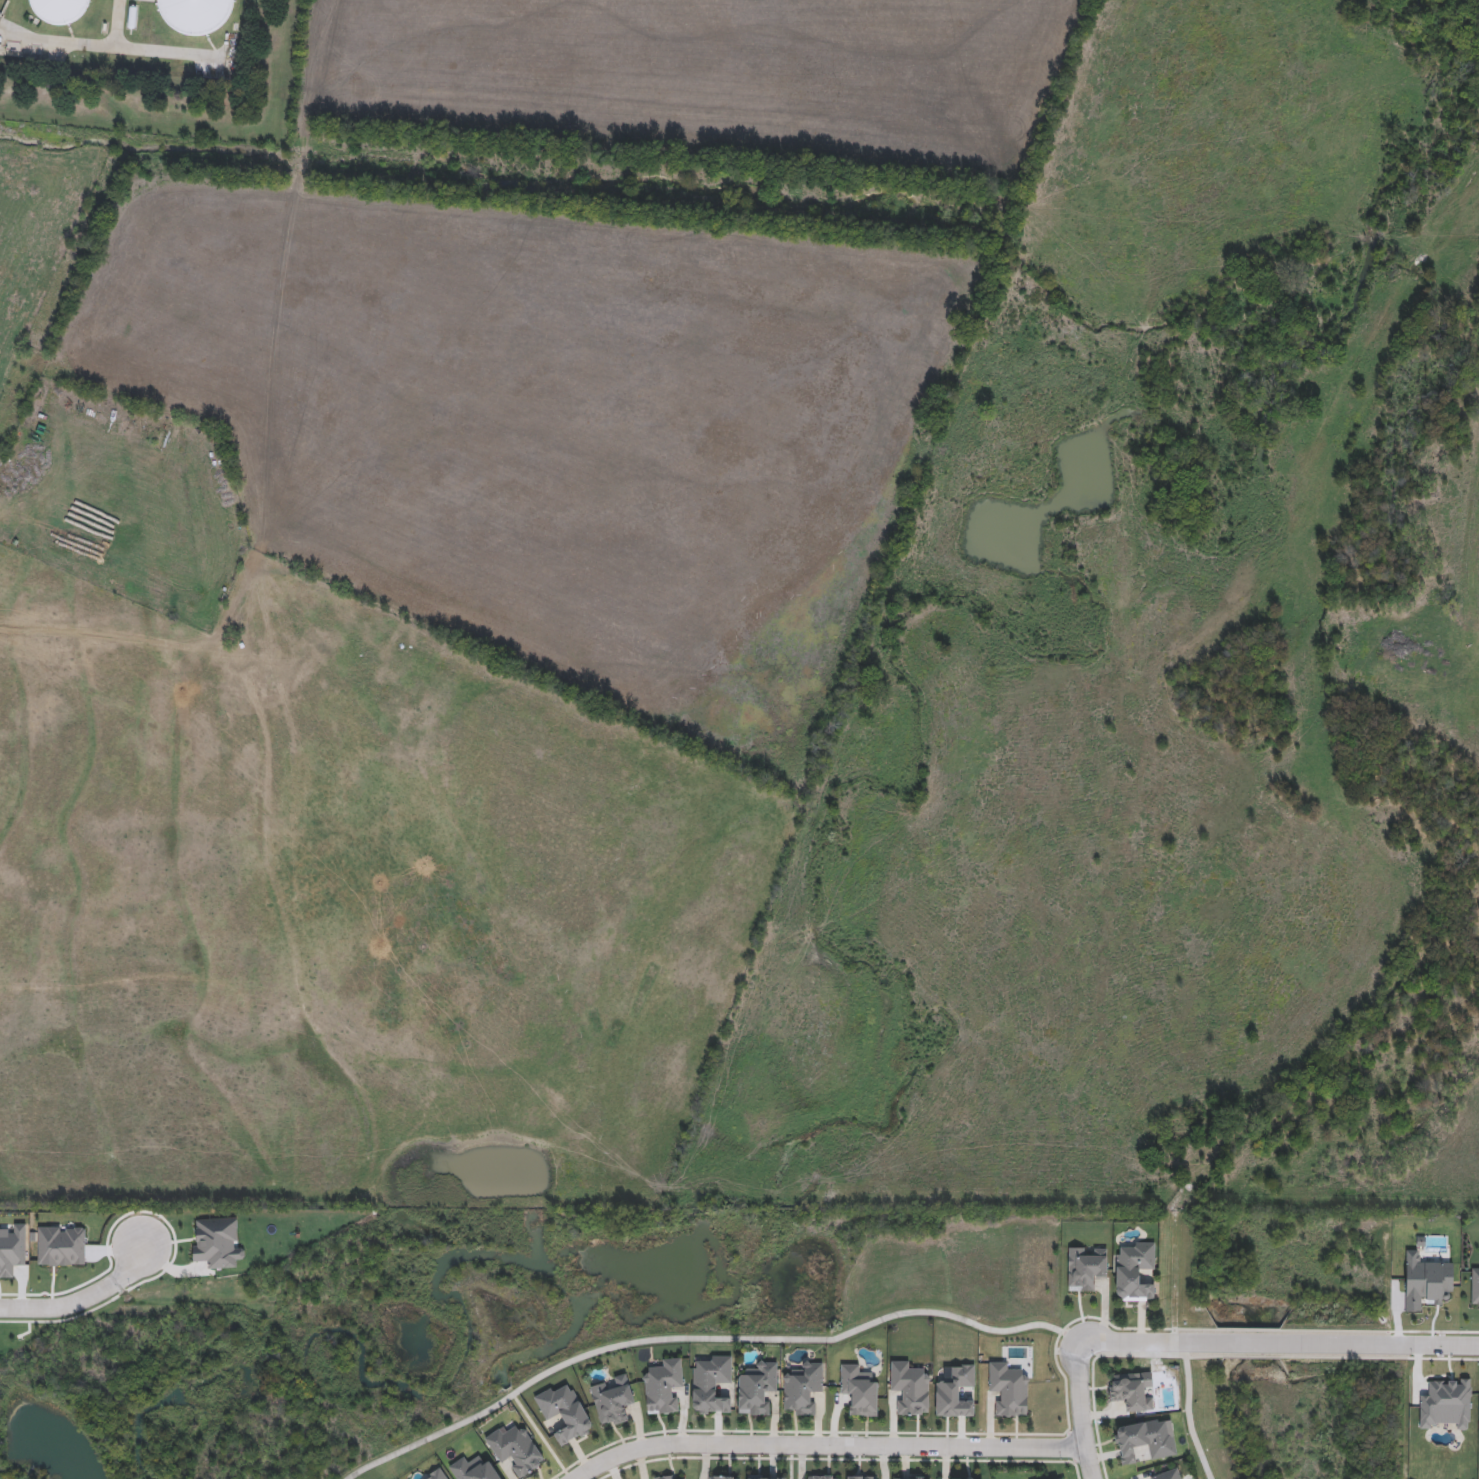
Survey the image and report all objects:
building: (58, 10)
building: (195, 15)
road: (112, 46)
crop: (710, 81)
crop: (552, 423)
building: (1086, 1266)
building: (1135, 1270)
road: (83, 1297)
road: (822, 1343)
road: (1280, 1346)
building: (711, 1383)
building: (663, 1385)
building: (802, 1386)
building: (757, 1387)
building: (910, 1387)
building: (1009, 1388)
building: (859, 1389)
building: (1132, 1390)
building: (956, 1391)
building: (613, 1399)
building: (565, 1411)
road: (1081, 1411)
building: (1143, 1439)
road: (825, 1444)
building: (516, 1448)
building: (474, 1468)
building: (436, 1474)
building: (1167, 1474)
building: (672, 1476)
building: (725, 1476)
building: (766, 1476)
building: (824, 1476)
building: (861, 1476)
building: (911, 1477)
building: (966, 1478)
building: (1061, 1478)

